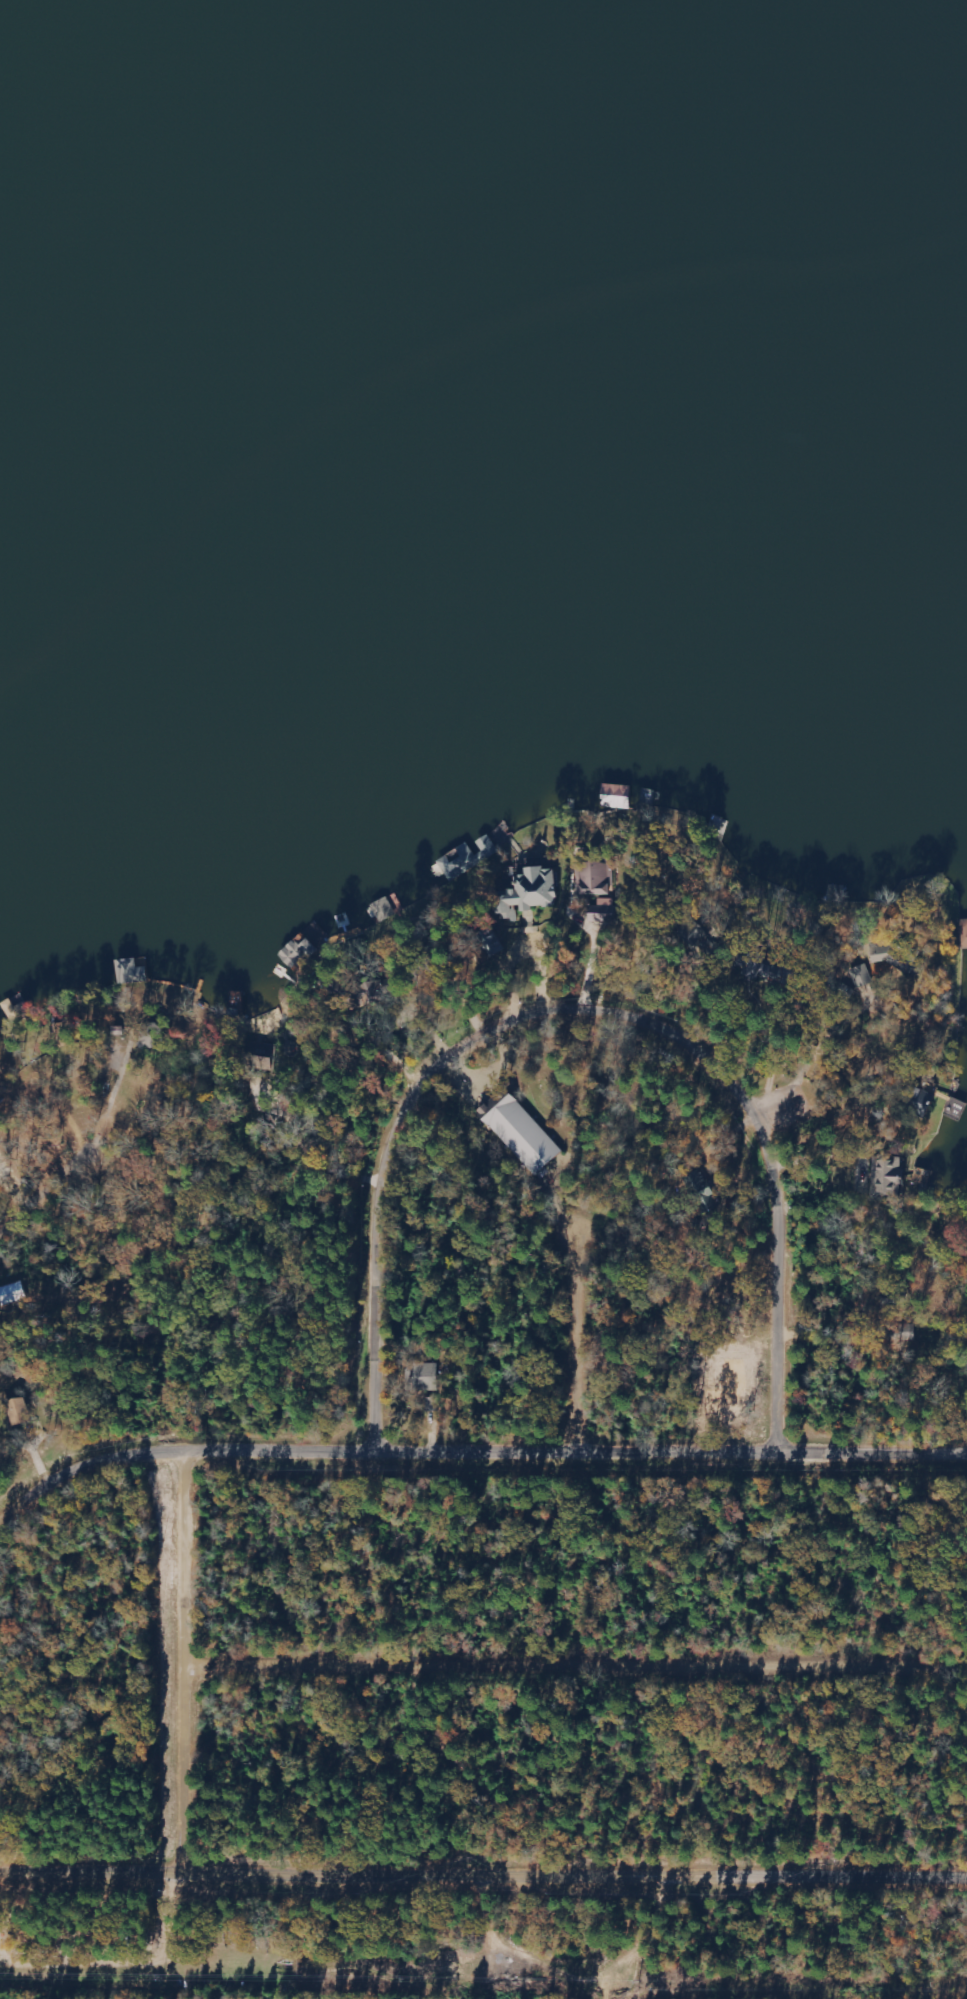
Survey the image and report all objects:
building: (460, 862)
building: (593, 878)
building: (531, 891)
building: (964, 933)
building: (493, 942)
building: (887, 952)
building: (133, 971)
building: (863, 976)
road: (595, 998)
building: (151, 1036)
road: (821, 1081)
building: (925, 1100)
building: (522, 1131)
road: (340, 1154)
building: (888, 1176)
road: (50, 1193)
building: (712, 1200)
building: (11, 1294)
road: (595, 1341)
building: (429, 1377)
building: (22, 1411)
road: (465, 1446)
road: (209, 1648)
road: (588, 1665)
road: (483, 1863)
power tower: (640, 1983)

